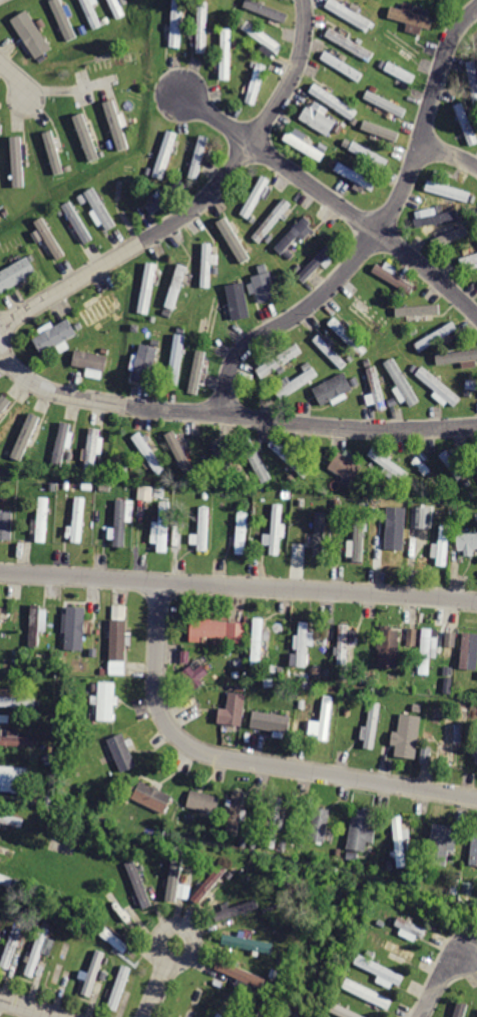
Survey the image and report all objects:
building: (116, 9)
building: (266, 9)
building: (93, 13)
building: (349, 14)
building: (411, 16)
building: (65, 19)
building: (177, 24)
building: (203, 27)
building: (33, 36)
building: (263, 36)
building: (350, 45)
building: (226, 53)
building: (115, 61)
building: (342, 66)
building: (401, 73)
road: (16, 78)
building: (472, 79)
building: (256, 84)
road: (77, 92)
building: (332, 100)
building: (385, 104)
building: (320, 120)
building: (465, 124)
building: (117, 125)
building: (0, 127)
building: (380, 130)
building: (87, 139)
building: (304, 144)
building: (165, 153)
building: (367, 154)
building: (54, 156)
road: (450, 156)
building: (200, 157)
building: (17, 158)
building: (356, 176)
building: (125, 187)
building: (450, 191)
building: (255, 196)
road: (199, 200)
road: (334, 200)
building: (101, 209)
building: (476, 215)
building: (438, 217)
building: (273, 220)
building: (78, 223)
road: (377, 233)
building: (294, 235)
building: (450, 235)
building: (50, 237)
building: (233, 239)
building: (12, 245)
building: (468, 260)
building: (315, 263)
building: (207, 265)
building: (17, 274)
building: (394, 277)
building: (176, 286)
building: (266, 287)
building: (148, 289)
building: (237, 300)
building: (101, 308)
building: (417, 309)
building: (372, 314)
building: (436, 335)
building: (55, 336)
building: (351, 336)
building: (330, 350)
building: (153, 352)
building: (458, 357)
building: (177, 359)
building: (279, 359)
building: (92, 360)
building: (143, 362)
building: (199, 370)
building: (298, 382)
building: (401, 382)
building: (471, 383)
building: (333, 388)
building: (377, 388)
building: (439, 388)
building: (4, 403)
road: (228, 416)
building: (26, 437)
building: (62, 443)
building: (94, 449)
building: (179, 451)
building: (149, 454)
building: (222, 454)
building: (472, 454)
building: (289, 458)
building: (391, 465)
building: (455, 465)
building: (259, 466)
building: (345, 468)
building: (426, 468)
building: (145, 491)
building: (422, 517)
building: (43, 518)
building: (78, 519)
building: (6, 524)
building: (121, 524)
building: (276, 527)
building: (162, 528)
building: (204, 528)
building: (242, 530)
building: (319, 533)
building: (359, 535)
building: (467, 538)
building: (308, 539)
building: (394, 542)
building: (444, 544)
road: (238, 586)
building: (1, 619)
building: (35, 625)
building: (77, 627)
building: (217, 631)
building: (411, 636)
building: (450, 638)
building: (258, 641)
building: (118, 644)
building: (303, 644)
building: (344, 644)
building: (390, 646)
building: (469, 649)
building: (424, 651)
building: (194, 673)
building: (211, 675)
building: (446, 684)
building: (107, 701)
building: (17, 702)
building: (233, 708)
building: (325, 718)
building: (272, 721)
building: (373, 724)
building: (414, 737)
building: (21, 739)
building: (449, 740)
building: (122, 752)
building: (476, 756)
road: (247, 761)
building: (15, 776)
building: (152, 795)
building: (204, 800)
building: (236, 809)
building: (13, 819)
building: (274, 823)
building: (319, 823)
building: (361, 831)
building: (399, 842)
building: (442, 843)
building: (474, 849)
building: (7, 851)
building: (174, 873)
building: (7, 878)
building: (140, 882)
building: (211, 884)
building: (183, 890)
building: (0, 891)
building: (238, 911)
building: (412, 925)
building: (115, 940)
building: (246, 941)
building: (12, 946)
building: (400, 951)
building: (37, 953)
building: (381, 969)
building: (93, 973)
building: (241, 975)
road: (160, 978)
road: (440, 983)
building: (119, 986)
building: (366, 992)
building: (197, 1005)
road: (31, 1006)
building: (462, 1009)
building: (255, 1013)
building: (222, 1014)

